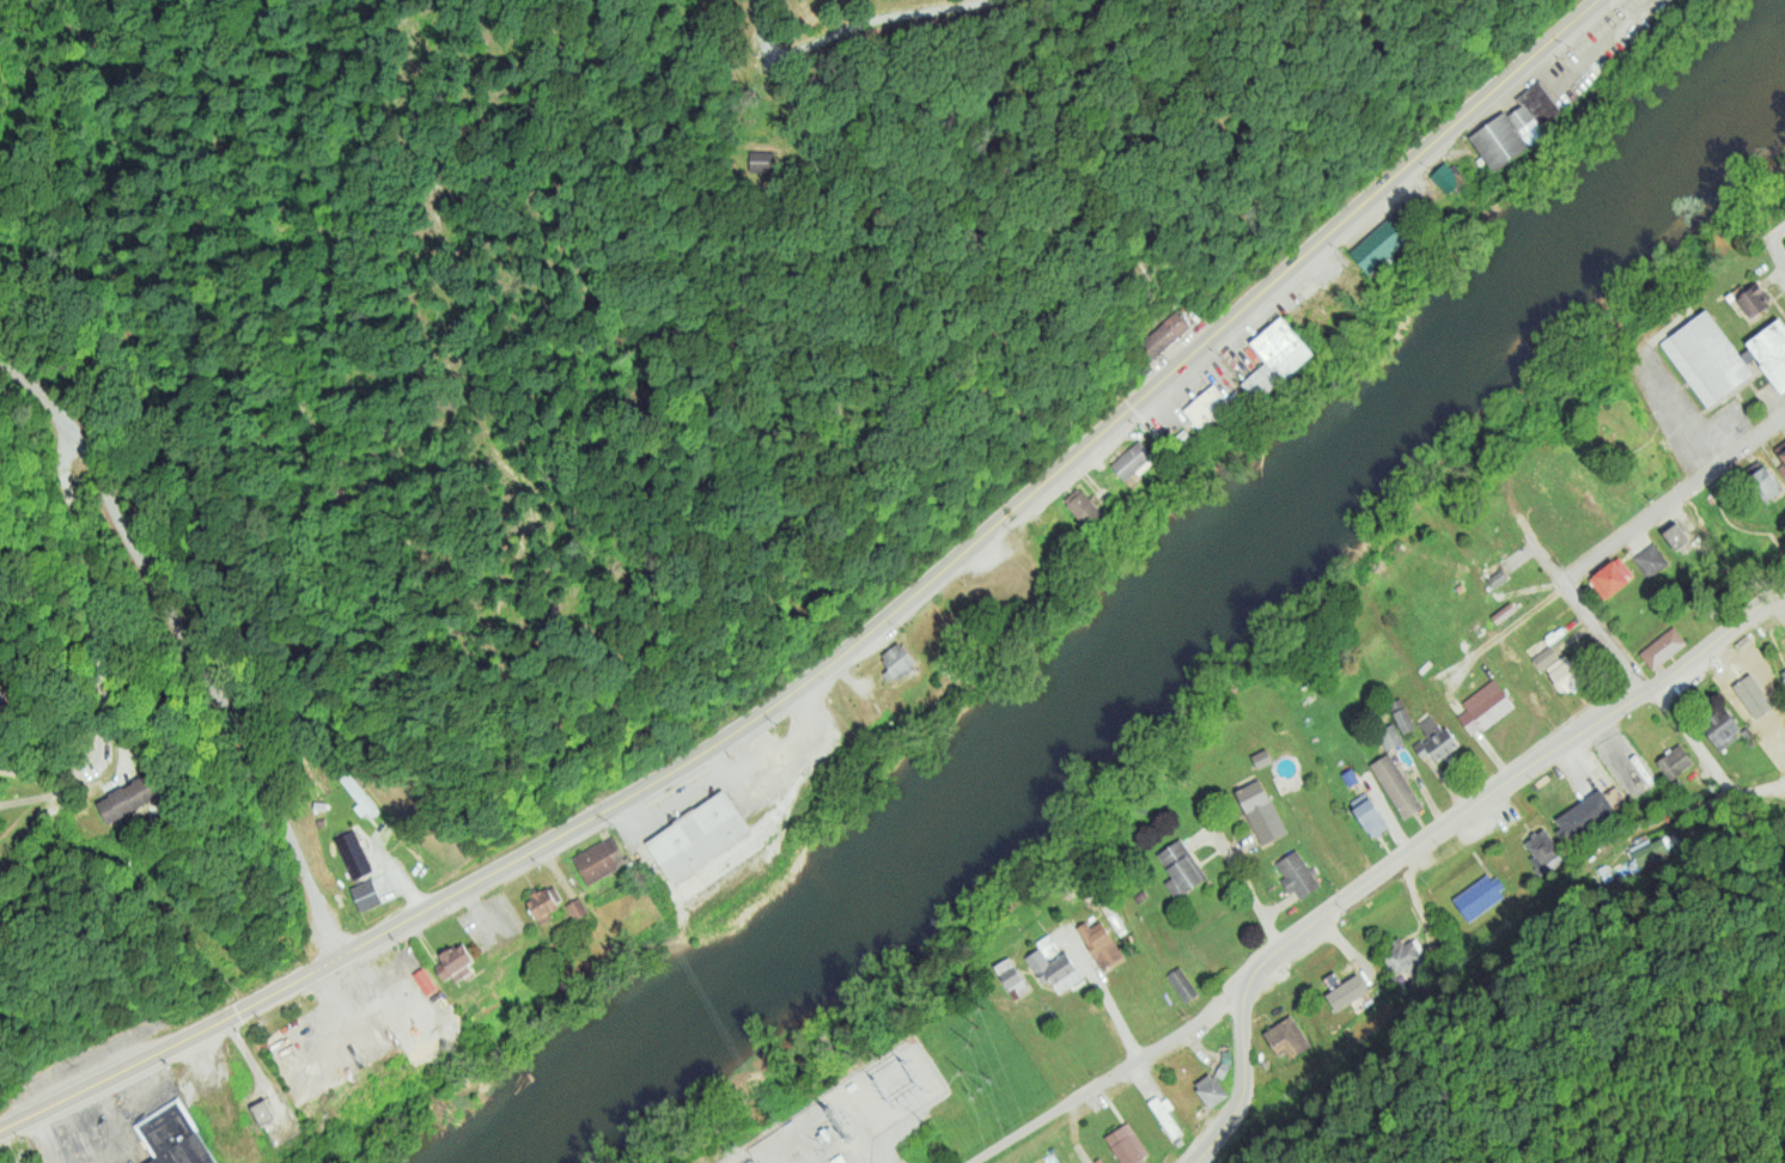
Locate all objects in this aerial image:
road: (877, 20)
building: (1513, 130)
building: (760, 160)
building: (1445, 179)
road: (1778, 233)
building: (1384, 242)
road: (1778, 250)
building: (1752, 304)
building: (1162, 335)
building: (1771, 354)
building: (1274, 355)
building: (1706, 359)
building: (1206, 408)
building: (1181, 437)
building: (1780, 451)
building: (1132, 463)
building: (1757, 481)
road: (1673, 500)
building: (1082, 510)
building: (1676, 537)
building: (1650, 562)
building: (1495, 579)
building: (1610, 579)
building: (1004, 580)
road: (1568, 593)
river: (1172, 620)
road: (1510, 623)
road: (1716, 635)
road: (849, 638)
building: (1662, 647)
road: (182, 650)
building: (1545, 657)
building: (896, 663)
building: (1783, 672)
building: (1512, 674)
building: (1565, 676)
building: (1784, 681)
road: (93, 683)
building: (1761, 695)
building: (1534, 696)
building: (0, 700)
building: (1485, 712)
building: (1401, 717)
building: (1717, 726)
building: (1746, 733)
building: (1388, 737)
building: (1433, 741)
building: (1775, 745)
building: (1260, 759)
road: (1706, 759)
building: (1673, 762)
road: (42, 766)
building: (1395, 786)
building: (355, 794)
building: (128, 798)
building: (1260, 814)
building: (1583, 816)
building: (1369, 817)
road: (1437, 835)
building: (697, 838)
building: (1546, 850)
building: (352, 855)
building: (599, 861)
building: (1180, 866)
building: (1297, 875)
building: (364, 896)
building: (1478, 899)
building: (542, 906)
building: (575, 909)
building: (1047, 944)
building: (1098, 944)
building: (1403, 956)
building: (453, 966)
building: (1054, 972)
building: (1015, 985)
building: (1181, 985)
building: (1344, 992)
power tower: (975, 1036)
building: (1286, 1040)
building: (1222, 1065)
power tower: (906, 1080)
road: (1114, 1080)
power tower: (985, 1085)
road: (1242, 1086)
building: (1210, 1091)
building: (261, 1114)
power substation: (849, 1114)
building: (1163, 1115)
building: (172, 1139)
building: (1125, 1145)

